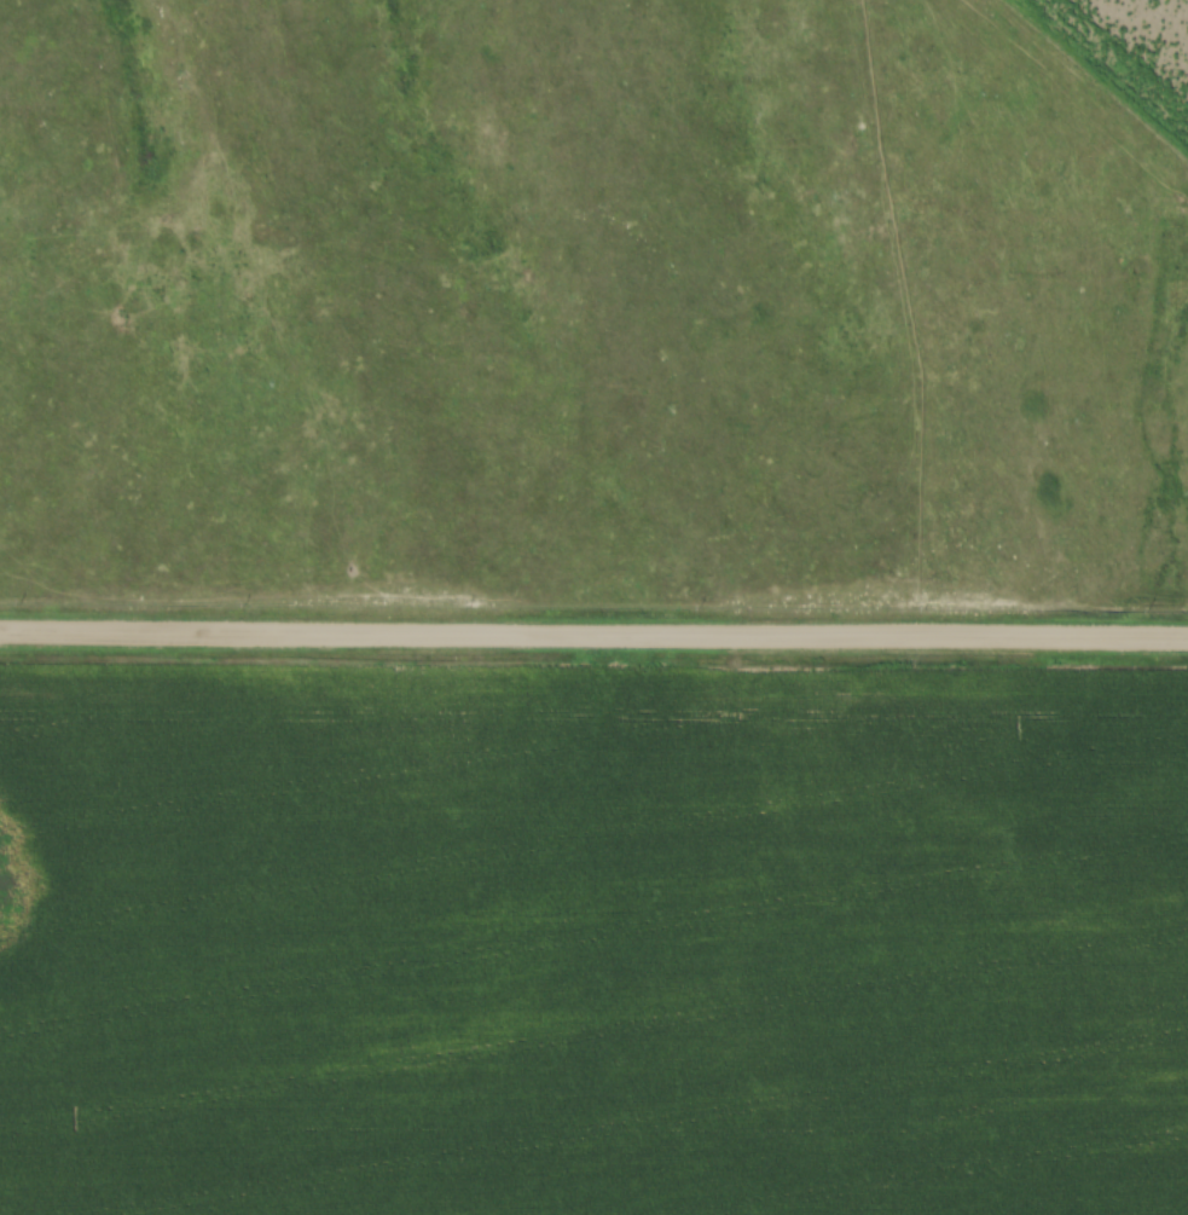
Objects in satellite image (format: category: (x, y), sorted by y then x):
road: (593, 637)

